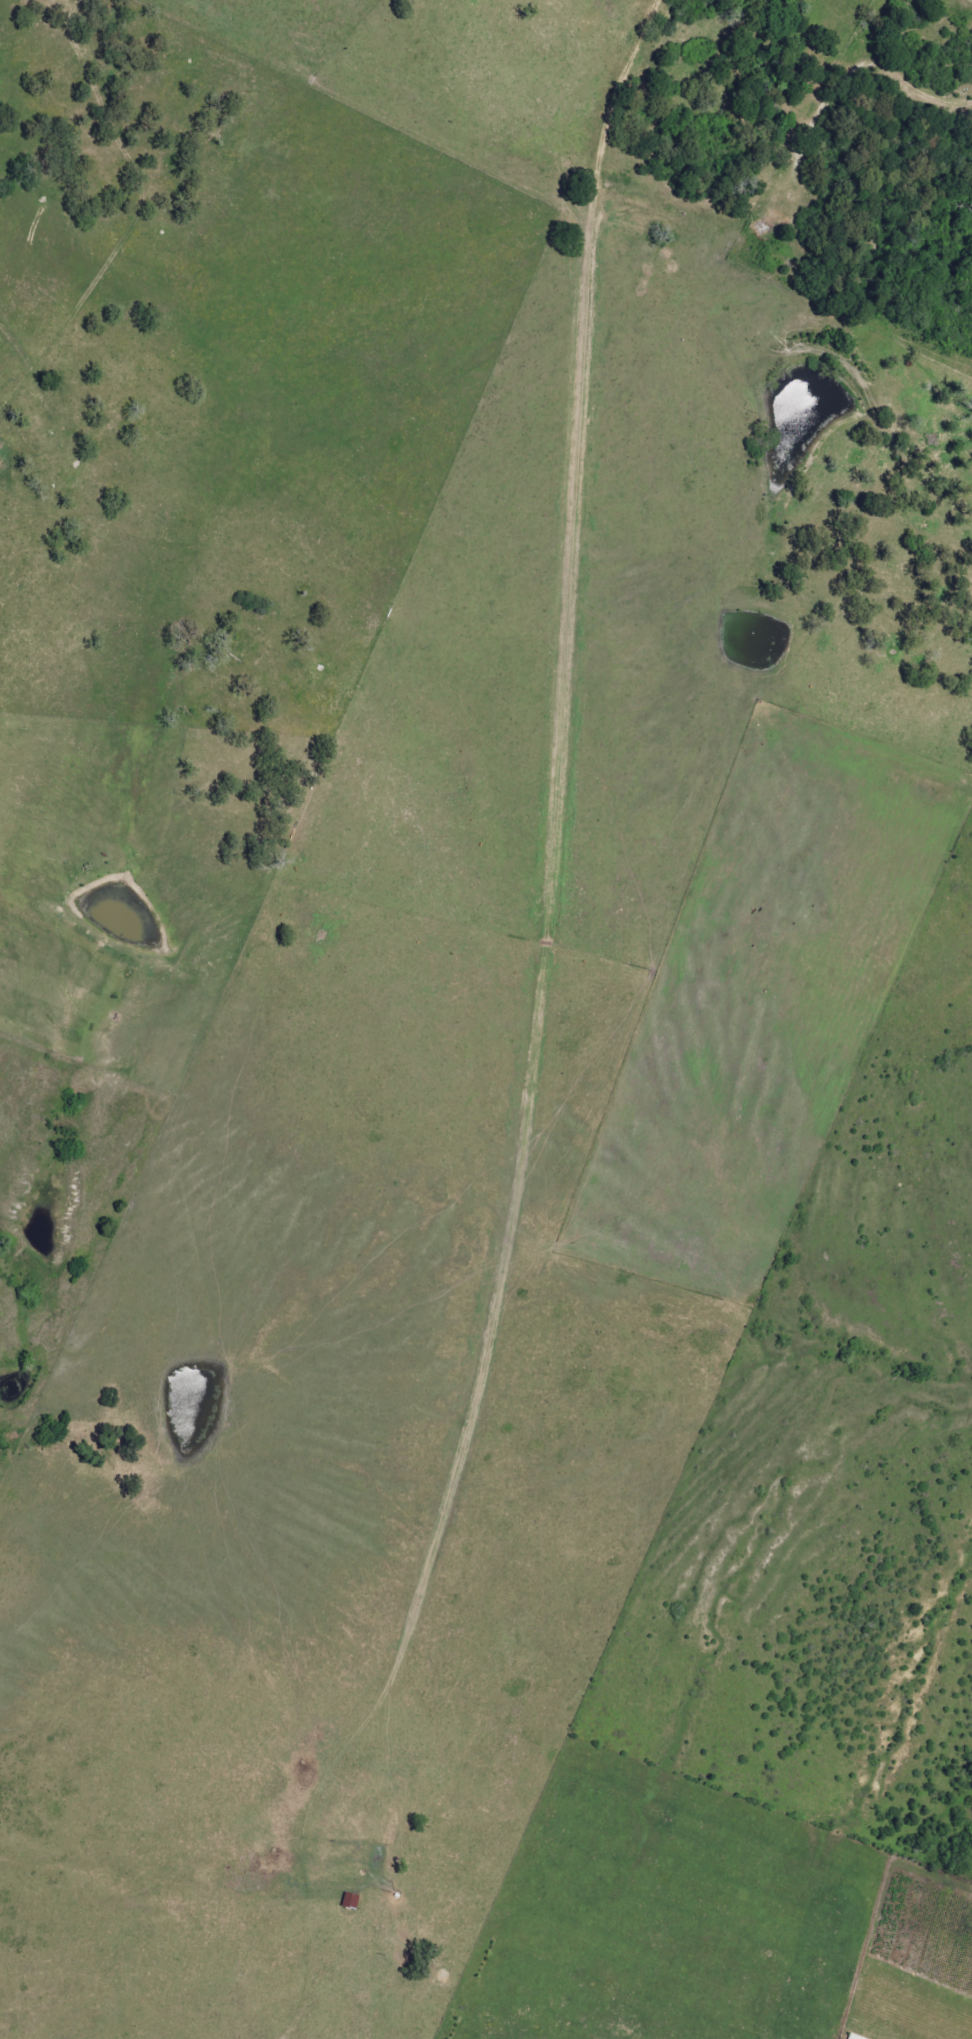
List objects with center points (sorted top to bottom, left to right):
road: (440, 1417)
building: (352, 1902)

